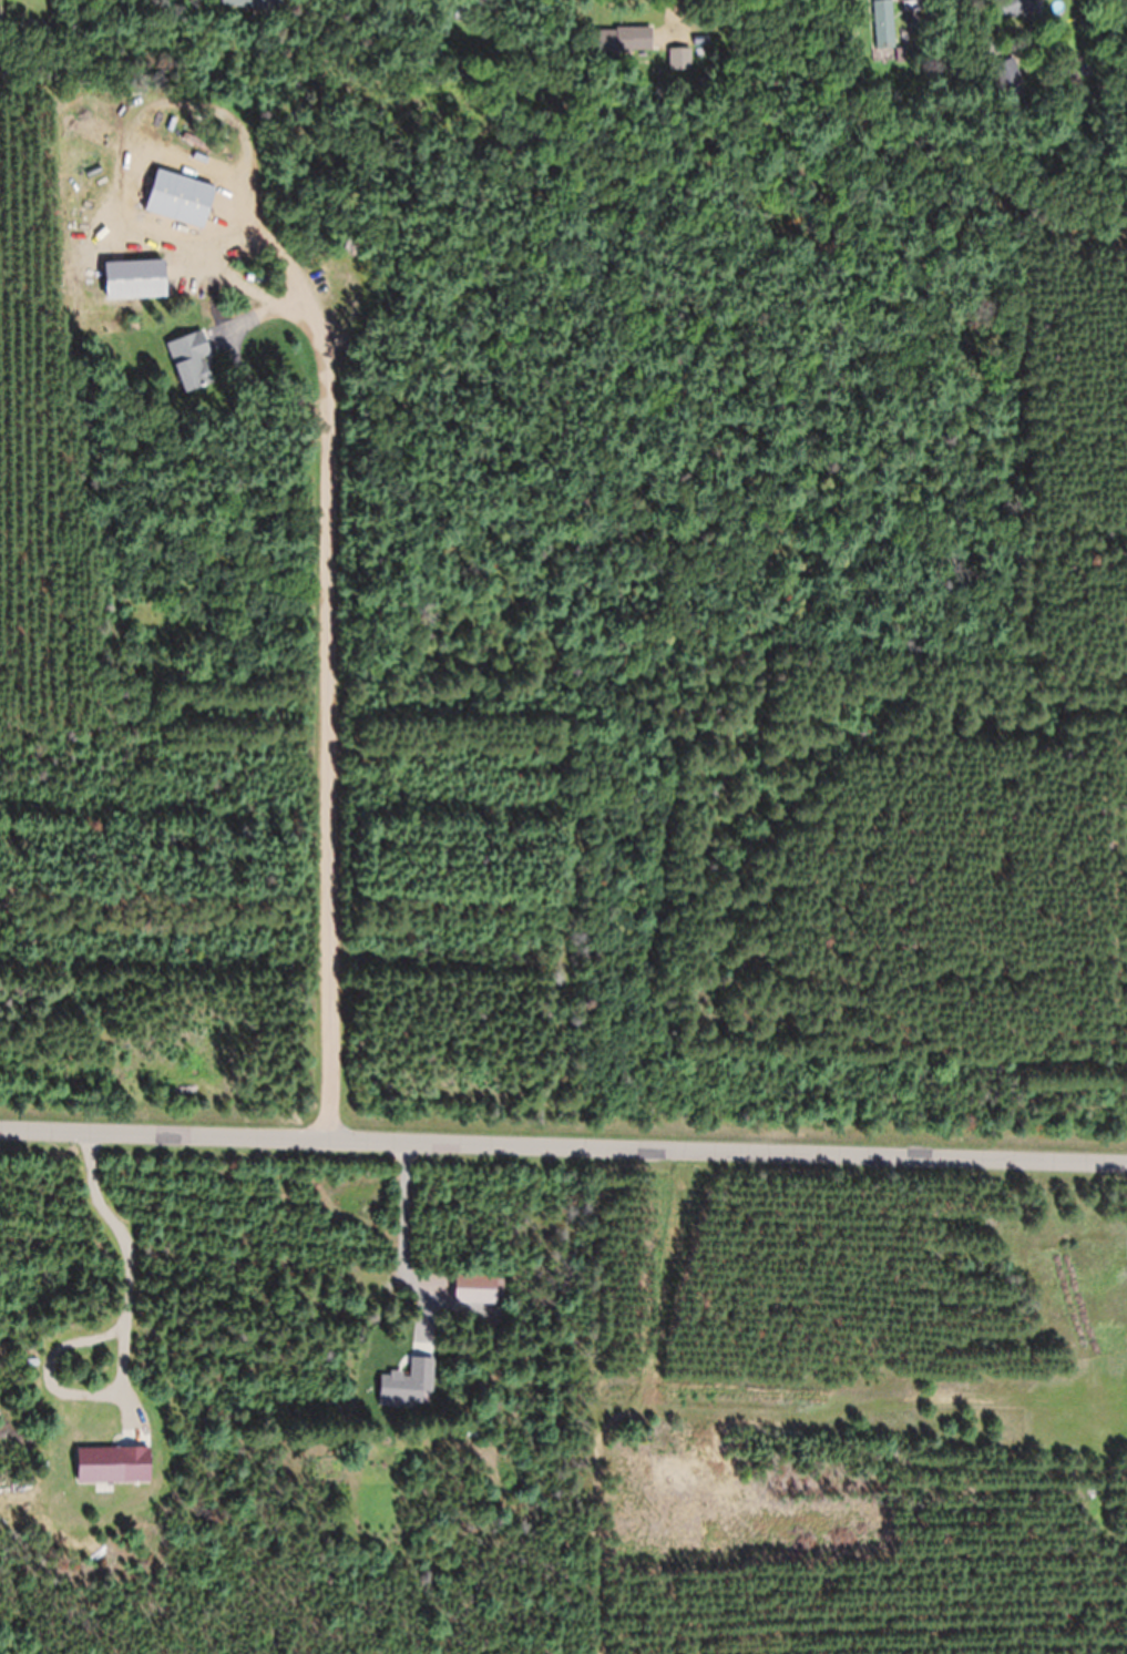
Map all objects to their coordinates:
building: (255, 3)
building: (1023, 7)
building: (882, 24)
building: (625, 39)
building: (679, 60)
building: (1008, 78)
building: (178, 198)
building: (189, 361)
road: (563, 1132)
building: (477, 1287)

